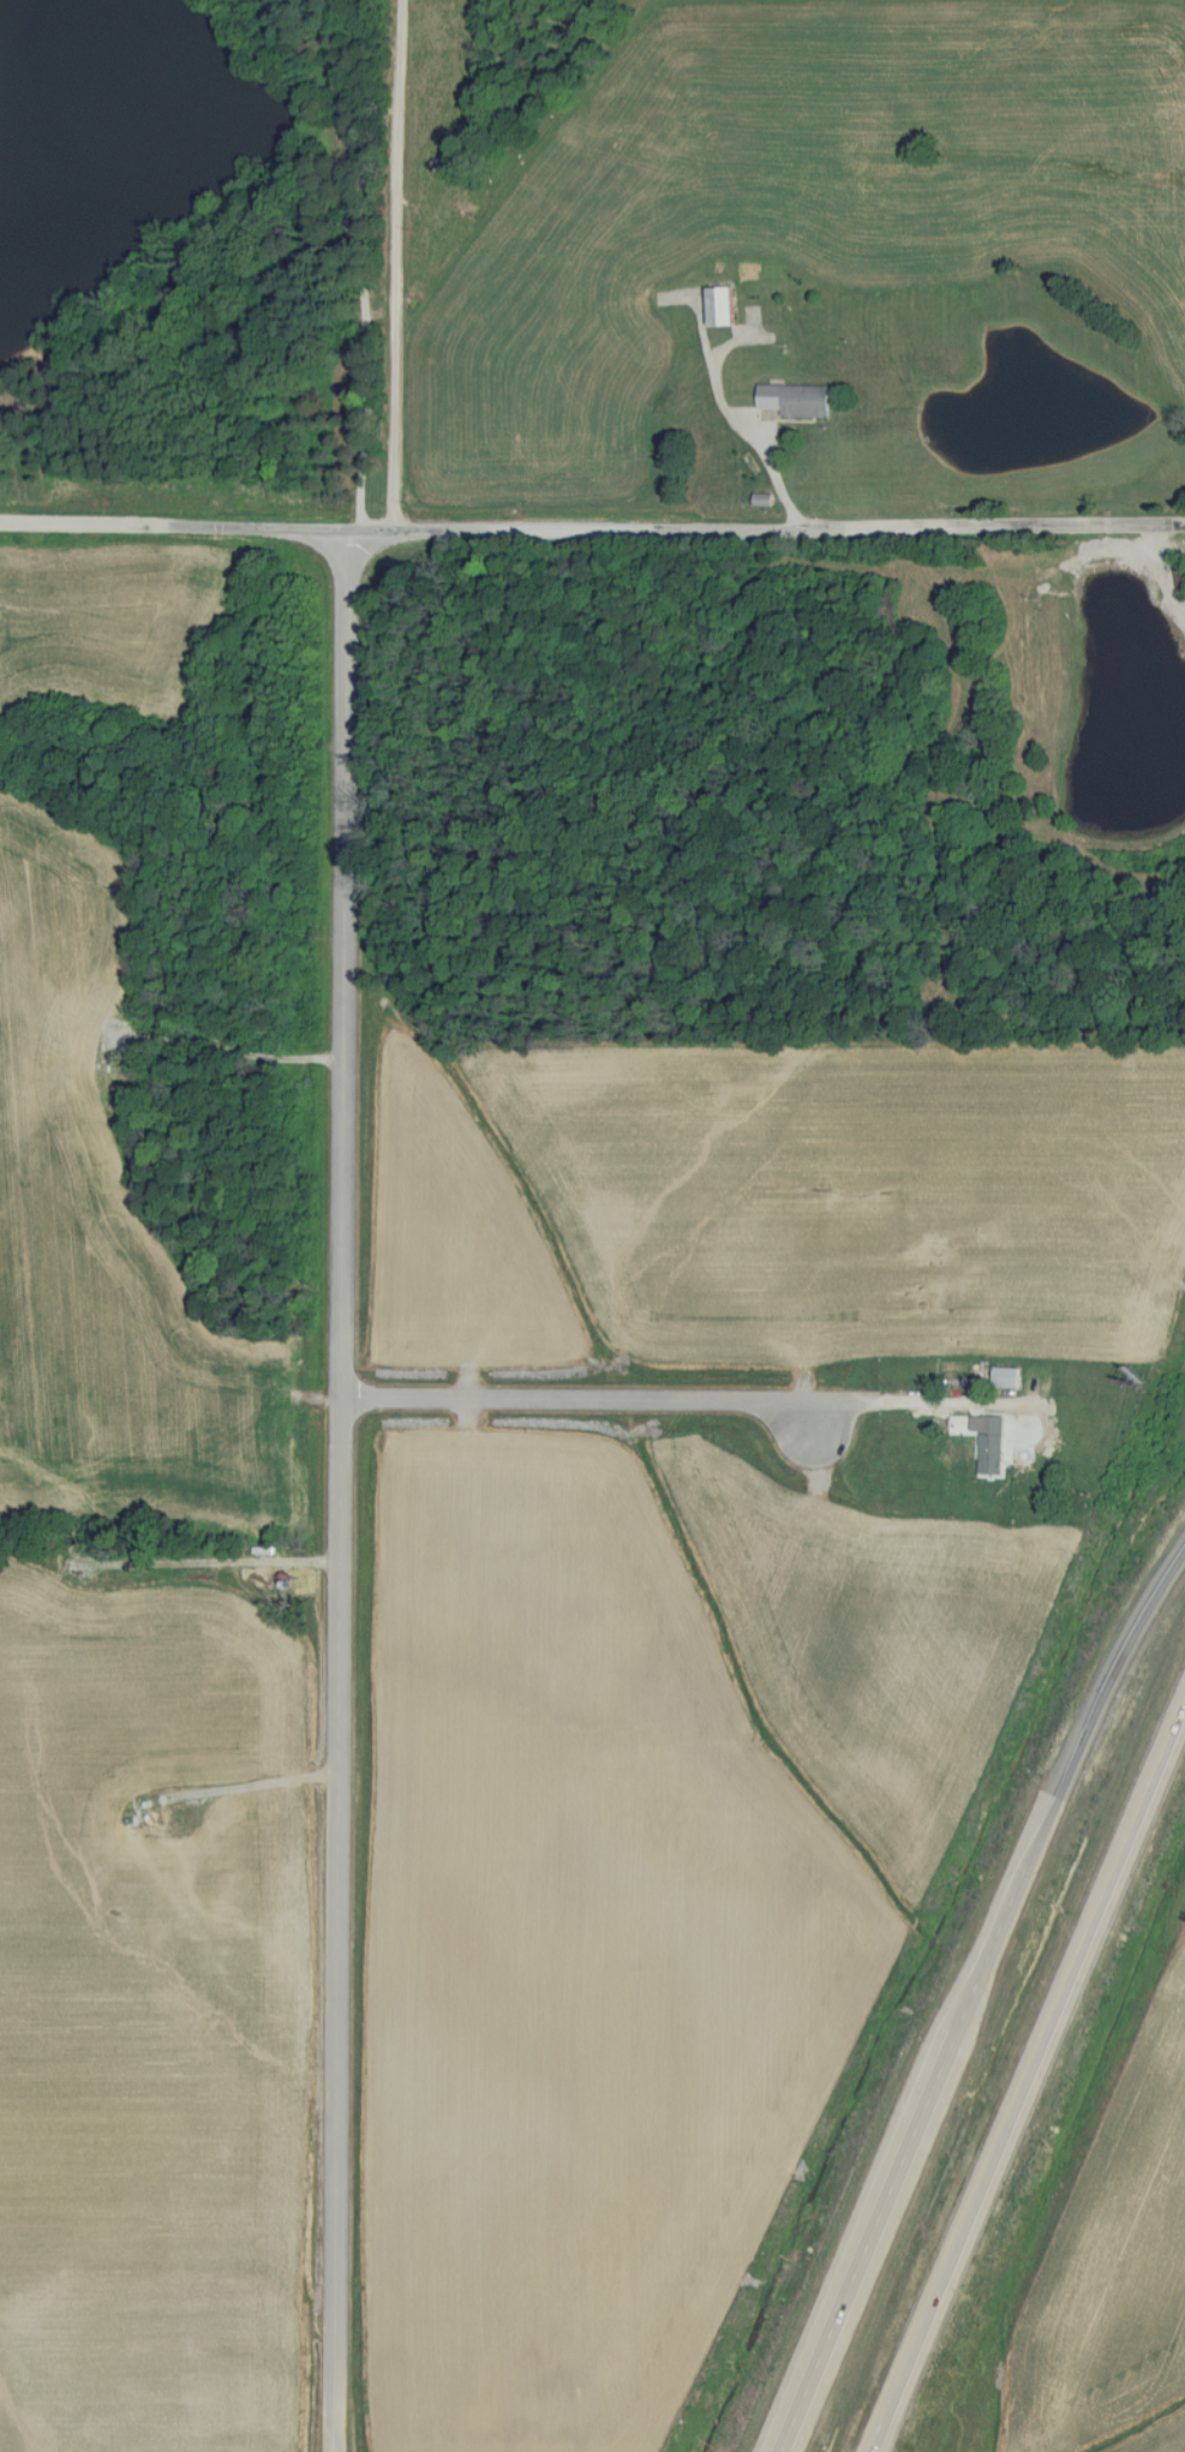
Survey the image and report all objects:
road: (390, 264)
building: (722, 305)
building: (794, 399)
road: (774, 472)
road: (592, 530)
building: (1180, 572)
road: (1161, 578)
building: (1006, 1376)
road: (586, 1398)
road: (893, 1405)
building: (989, 1442)
road: (346, 1490)
road: (1082, 1732)
road: (1037, 2055)
road: (891, 2188)
road: (881, 2429)

